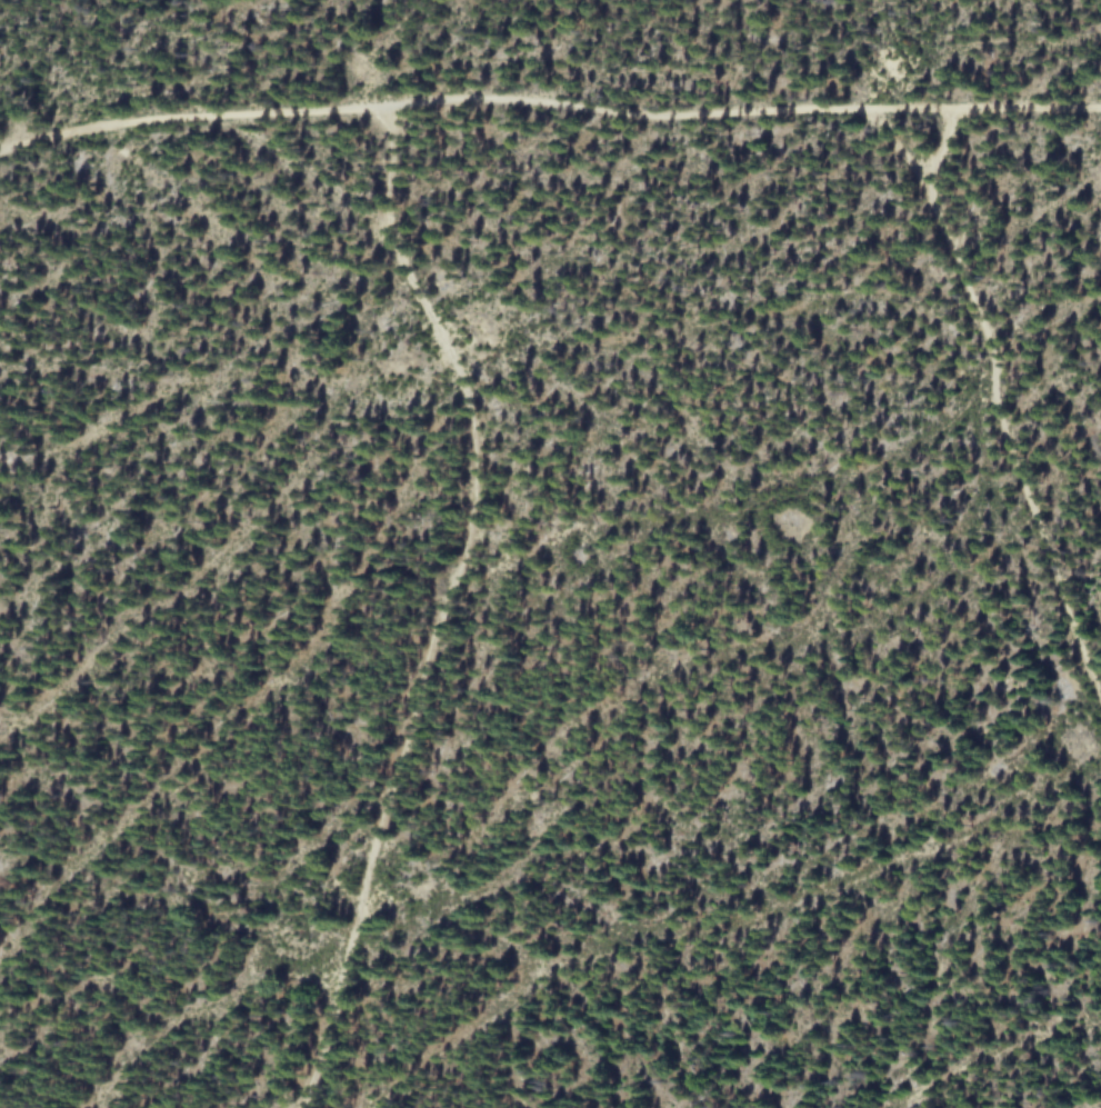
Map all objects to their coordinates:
road: (548, 103)
road: (938, 144)
road: (995, 395)
road: (446, 605)

